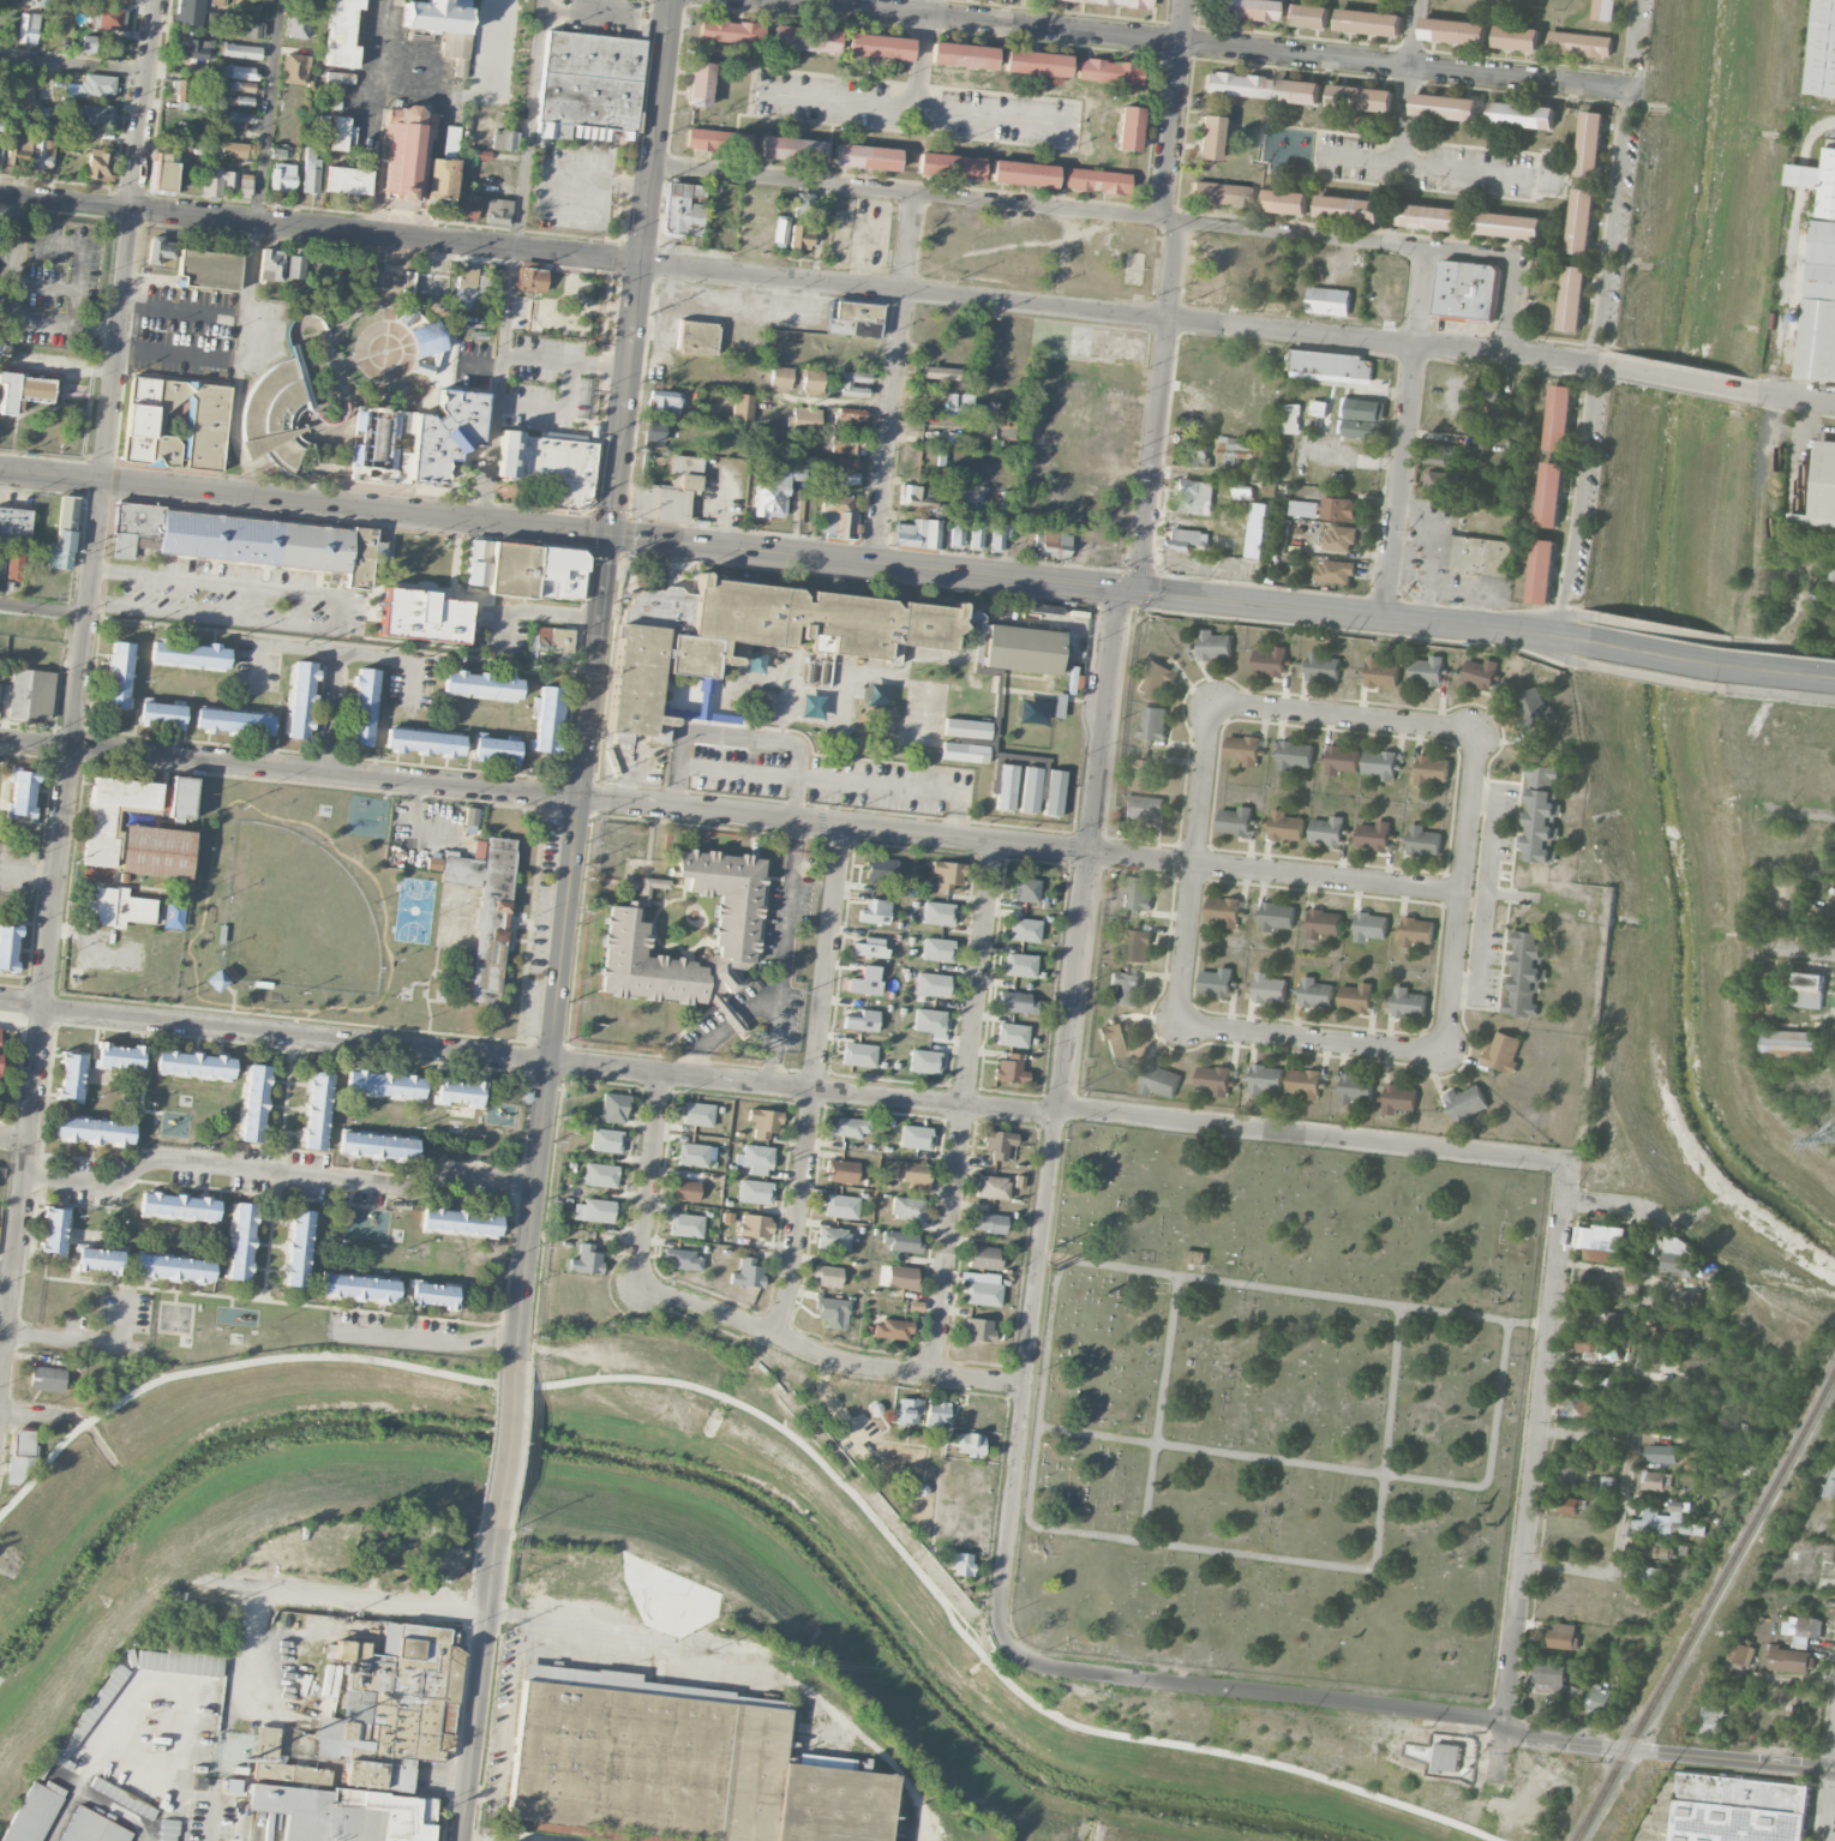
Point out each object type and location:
building: (119, 0)
building: (302, 0)
building: (1073, 0)
building: (1125, 2)
building: (240, 5)
building: (1249, 10)
building: (1607, 10)
building: (190, 12)
building: (1307, 14)
building: (1371, 22)
building: (226, 23)
building: (443, 25)
building: (296, 26)
building: (28, 28)
building: (252, 30)
building: (1453, 30)
building: (731, 31)
building: (341, 34)
building: (1517, 37)
building: (804, 38)
building: (1581, 43)
building: (100, 44)
road: (1199, 44)
building: (878, 47)
building: (196, 48)
building: (1823, 49)
building: (241, 52)
road: (923, 53)
building: (963, 55)
road: (73, 62)
building: (1036, 64)
building: (294, 68)
building: (1109, 71)
building: (239, 72)
building: (340, 77)
road: (1411, 82)
building: (700, 84)
building: (1235, 84)
building: (588, 85)
building: (96, 86)
building: (245, 86)
building: (23, 90)
building: (1299, 91)
building: (186, 94)
building: (1362, 97)
road: (917, 107)
building: (1446, 107)
road: (1175, 109)
building: (97, 114)
building: (1523, 114)
building: (0, 121)
building: (239, 121)
road: (1827, 121)
building: (1128, 128)
building: (340, 132)
building: (451, 137)
building: (1209, 137)
building: (504, 140)
building: (718, 140)
building: (187, 142)
building: (1590, 143)
building: (236, 149)
building: (791, 149)
building: (18, 151)
building: (407, 151)
building: (43, 154)
building: (865, 157)
building: (98, 164)
building: (949, 166)
road: (1425, 166)
building: (163, 170)
building: (311, 170)
building: (1023, 173)
building: (282, 176)
building: (440, 178)
building: (348, 180)
building: (217, 181)
building: (1097, 181)
building: (245, 182)
road: (905, 193)
building: (1222, 193)
building: (1287, 200)
building: (466, 206)
building: (804, 206)
building: (1350, 208)
building: (683, 209)
building: (498, 211)
building: (1433, 217)
building: (1582, 220)
road: (1170, 221)
building: (1510, 224)
building: (780, 230)
road: (1303, 233)
building: (800, 236)
road: (251, 247)
building: (160, 250)
road: (1798, 258)
road: (514, 260)
road: (1518, 260)
building: (271, 264)
building: (295, 266)
road: (638, 266)
building: (209, 269)
building: (530, 280)
road: (802, 280)
building: (1210, 281)
building: (469, 287)
building: (1467, 289)
building: (1573, 298)
building: (1329, 300)
road: (14, 307)
road: (184, 307)
road: (1597, 325)
building: (696, 336)
building: (426, 338)
park: (371, 354)
road: (178, 355)
building: (1332, 365)
building: (940, 372)
building: (779, 378)
road: (895, 378)
road: (1683, 380)
building: (811, 382)
building: (22, 390)
road: (1799, 397)
building: (664, 401)
road: (841, 402)
building: (961, 404)
building: (743, 407)
road: (1159, 407)
building: (1319, 408)
building: (1559, 416)
building: (278, 418)
building: (806, 418)
building: (1291, 418)
building: (1363, 418)
building: (206, 420)
building: (999, 428)
building: (654, 431)
road: (1405, 431)
building: (446, 433)
building: (1230, 446)
building: (373, 449)
building: (1440, 454)
building: (1198, 457)
building: (548, 463)
building: (848, 463)
building: (1260, 473)
road: (50, 474)
building: (844, 476)
building: (1438, 481)
building: (775, 488)
building: (1821, 488)
building: (1242, 491)
building: (666, 492)
building: (970, 494)
building: (1551, 494)
building: (1192, 496)
building: (922, 498)
building: (1003, 503)
building: (1303, 508)
building: (1338, 508)
building: (138, 518)
road: (1761, 522)
building: (14, 523)
building: (1257, 529)
building: (955, 532)
building: (917, 533)
traffic signals: (608, 534)
building: (975, 534)
building: (999, 534)
building: (64, 535)
building: (1185, 539)
building: (1339, 539)
building: (257, 540)
building: (124, 545)
building: (1477, 554)
building: (361, 558)
road: (838, 559)
building: (478, 565)
building: (14, 566)
building: (1, 569)
building: (512, 569)
building: (1336, 570)
building: (1542, 570)
building: (559, 572)
road: (1699, 580)
traffic signals: (1131, 590)
road: (43, 607)
road: (536, 610)
road: (337, 613)
building: (424, 616)
road: (1552, 618)
road: (1659, 628)
building: (750, 634)
building: (550, 640)
building: (1215, 644)
road: (1777, 648)
road: (336, 650)
building: (1023, 650)
road: (1547, 652)
building: (188, 654)
building: (1270, 660)
road: (1704, 660)
building: (1324, 666)
building: (1428, 670)
building: (1383, 672)
building: (1481, 673)
building: (118, 674)
road: (1656, 677)
building: (1155, 678)
road: (77, 682)
building: (481, 685)
building: (31, 694)
road: (1780, 695)
building: (299, 698)
building: (361, 707)
building: (1536, 708)
road: (330, 712)
building: (160, 713)
park: (923, 713)
road: (1347, 718)
building: (546, 719)
building: (233, 721)
building: (1152, 724)
road: (740, 736)
building: (422, 742)
building: (496, 749)
building: (1243, 749)
building: (1295, 754)
building: (1342, 760)
building: (1380, 763)
building: (1432, 769)
building: (1145, 774)
road: (841, 780)
road: (626, 782)
building: (23, 793)
building: (181, 798)
building: (1145, 806)
building: (1540, 814)
road: (731, 815)
building: (470, 816)
building: (1235, 820)
building: (101, 824)
building: (1285, 826)
building: (1327, 830)
building: (1374, 835)
building: (1423, 840)
road: (1092, 850)
building: (155, 851)
building: (433, 863)
road: (1195, 864)
building: (881, 869)
building: (948, 875)
building: (650, 887)
building: (1026, 889)
building: (1138, 893)
road: (1462, 894)
building: (121, 907)
building: (485, 908)
building: (1223, 910)
building: (874, 912)
building: (937, 913)
building: (1276, 916)
building: (1324, 923)
building: (1371, 925)
building: (1024, 929)
building: (1416, 930)
building: (734, 935)
building: (1137, 943)
building: (8, 946)
road: (560, 946)
building: (869, 947)
building: (936, 949)
road: (784, 952)
road: (1812, 955)
building: (1020, 965)
building: (1525, 972)
building: (864, 981)
building: (1216, 982)
building: (931, 984)
building: (1269, 987)
building: (1125, 988)
building: (1807, 989)
building: (1315, 991)
building: (1356, 996)
building: (1017, 1002)
building: (1409, 1002)
road: (758, 1003)
road: (732, 1019)
building: (928, 1020)
building: (862, 1021)
building: (0, 1031)
building: (1012, 1035)
building: (1115, 1037)
road: (1313, 1042)
road: (698, 1044)
building: (1791, 1044)
building: (1503, 1051)
building: (858, 1054)
building: (119, 1056)
building: (924, 1061)
building: (194, 1065)
building: (1011, 1068)
building: (71, 1077)
building: (1266, 1078)
building: (1159, 1079)
building: (1215, 1079)
road: (814, 1081)
building: (1305, 1083)
building: (384, 1085)
road: (784, 1085)
building: (1356, 1087)
building: (458, 1092)
building: (1399, 1098)
building: (253, 1103)
building: (1467, 1103)
building: (613, 1108)
road: (963, 1109)
building: (317, 1110)
building: (697, 1114)
building: (763, 1121)
building: (850, 1126)
building: (94, 1131)
road: (13, 1137)
building: (914, 1137)
building: (606, 1140)
building: (997, 1144)
building: (377, 1145)
building: (692, 1155)
building: (755, 1157)
road: (282, 1167)
building: (841, 1171)
road: (275, 1174)
building: (600, 1175)
building: (913, 1175)
road: (648, 1180)
building: (991, 1187)
building: (686, 1191)
building: (754, 1192)
building: (179, 1206)
building: (840, 1206)
building: (907, 1209)
building: (598, 1210)
building: (364, 1222)
building: (460, 1222)
building: (988, 1222)
building: (685, 1225)
building: (754, 1225)
building: (54, 1229)
building: (833, 1239)
building: (900, 1240)
building: (240, 1241)
building: (1600, 1242)
building: (298, 1248)
building: (983, 1257)
building: (1679, 1257)
building: (683, 1259)
building: (98, 1260)
building: (586, 1260)
building: (173, 1267)
building: (746, 1273)
road: (5, 1275)
building: (827, 1276)
building: (901, 1277)
building: (1632, 1277)
building: (1596, 1283)
building: (358, 1288)
building: (982, 1288)
building: (432, 1294)
road: (1650, 1296)
road: (281, 1303)
building: (914, 1306)
building: (1596, 1309)
building: (832, 1312)
road: (102, 1315)
road: (332, 1321)
building: (892, 1330)
building: (977, 1330)
building: (1672, 1332)
road: (424, 1342)
road: (76, 1343)
building: (1591, 1343)
road: (826, 1355)
building: (47, 1378)
building: (1584, 1379)
road: (1026, 1383)
building: (1583, 1407)
park: (1278, 1410)
building: (907, 1411)
building: (936, 1413)
road: (28, 1414)
road: (784, 1432)
road: (504, 1443)
building: (970, 1444)
building: (1661, 1452)
building: (19, 1457)
building: (1566, 1473)
road: (1533, 1476)
building: (1656, 1480)
building: (1828, 1483)
park: (227, 1495)
building: (1570, 1505)
road: (1627, 1506)
building: (1666, 1521)
building: (1655, 1551)
building: (446, 1554)
building: (958, 1563)
road: (353, 1596)
railway: (1707, 1606)
building: (1803, 1629)
road: (618, 1630)
building: (1563, 1636)
building: (1740, 1651)
building: (1791, 1659)
building: (168, 1661)
building: (1551, 1678)
road: (478, 1684)
building: (1575, 1693)
building: (1597, 1699)
building: (97, 1702)
building: (391, 1707)
road: (1422, 1710)
building: (1709, 1719)
road: (1831, 1741)
building: (1449, 1757)
building: (677, 1765)
building: (233, 1786)
building: (122, 1797)
building: (330, 1803)
road: (1824, 1804)
building: (1739, 1809)
building: (30, 1811)
road: (212, 1813)
building: (236, 1825)
building: (94, 1828)
building: (168, 1830)

